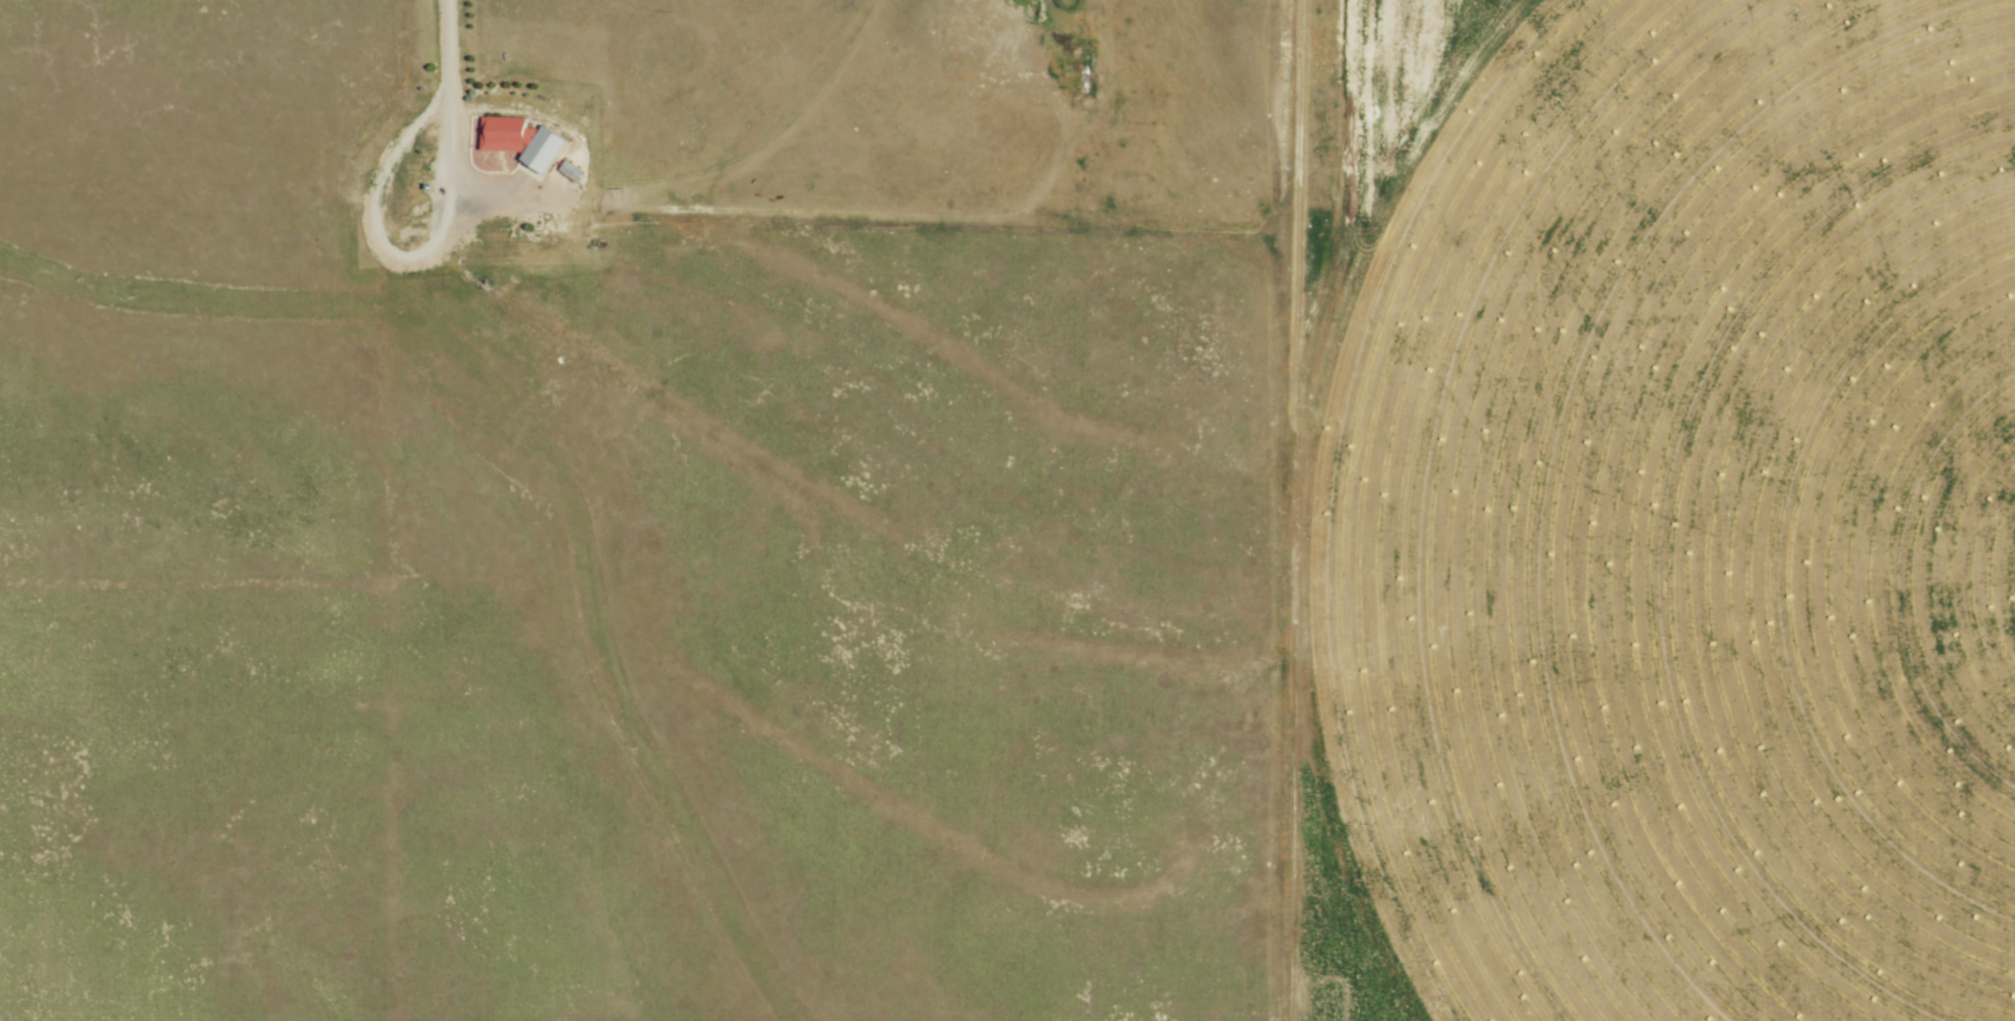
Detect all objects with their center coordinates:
building: (521, 141)
road: (446, 165)
building: (570, 174)
road: (362, 223)
crop: (1677, 535)

